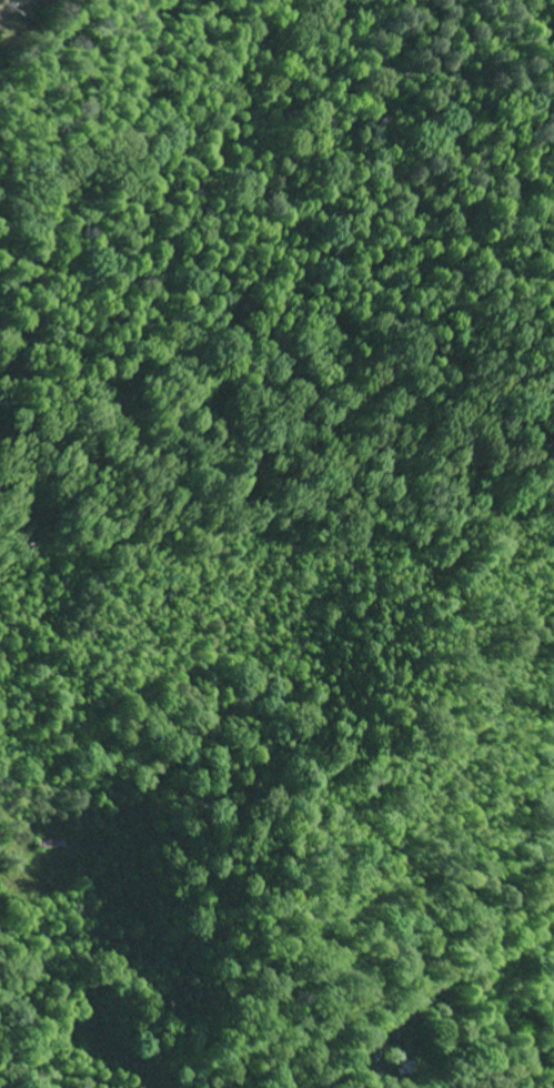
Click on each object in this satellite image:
road: (30, 1075)

